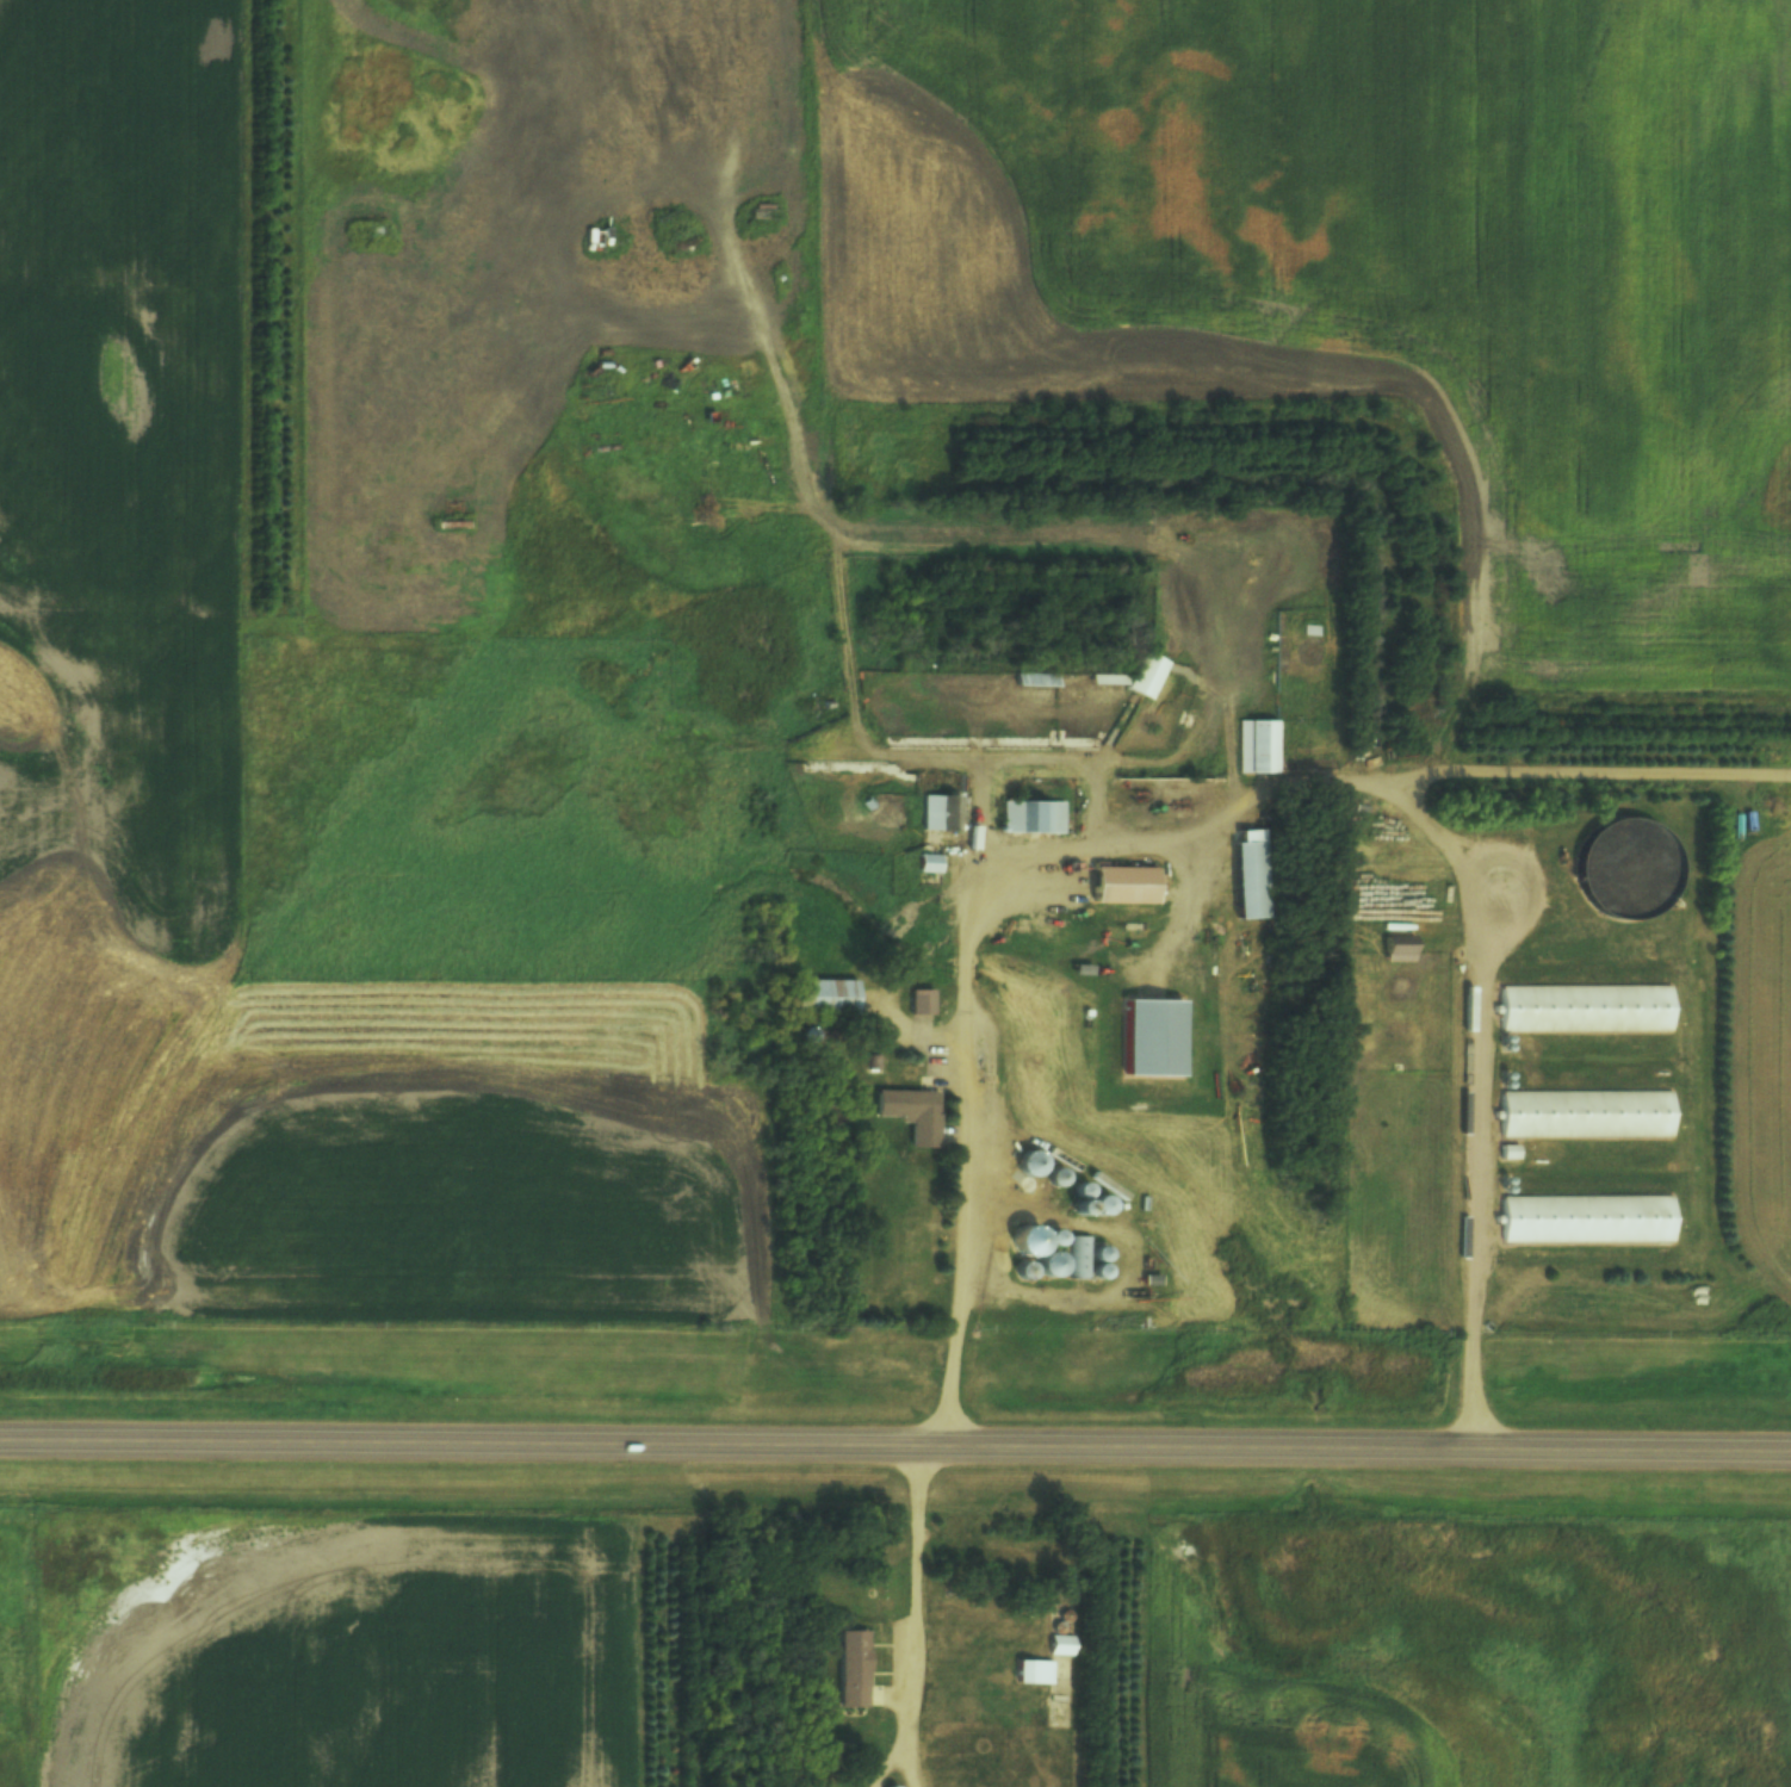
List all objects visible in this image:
building: (762, 211)
building: (456, 526)
building: (1257, 747)
building: (938, 813)
building: (1034, 819)
building: (929, 863)
building: (1625, 871)
building: (1248, 881)
building: (1120, 887)
road: (1469, 907)
building: (1399, 949)
building: (824, 998)
building: (919, 1003)
building: (1586, 1010)
building: (910, 1115)
building: (1586, 1115)
road: (966, 1160)
building: (1029, 1166)
building: (1586, 1221)
building: (1086, 1258)
building: (1048, 1267)
road: (895, 1442)
road: (911, 1593)
building: (854, 1669)
building: (1034, 1673)

